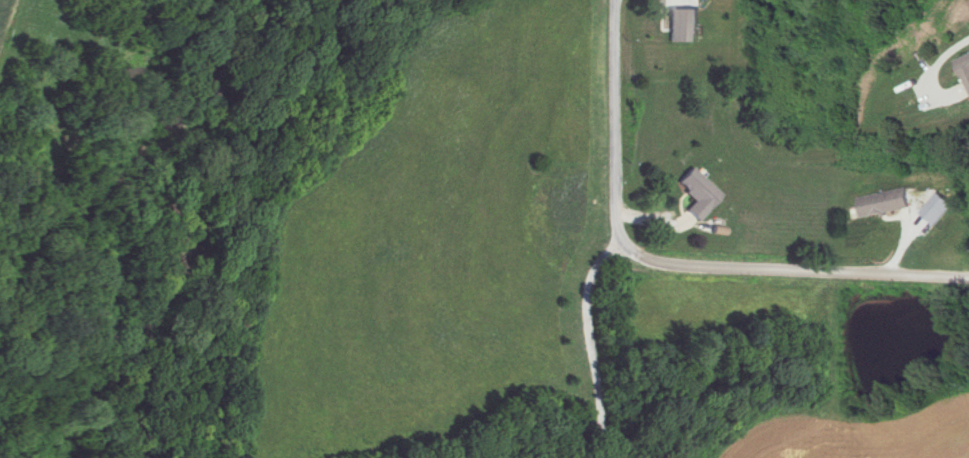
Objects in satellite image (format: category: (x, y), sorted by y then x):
building: (680, 26)
road: (944, 54)
building: (963, 69)
building: (698, 193)
building: (878, 202)
building: (931, 208)
road: (670, 266)
road: (591, 342)

